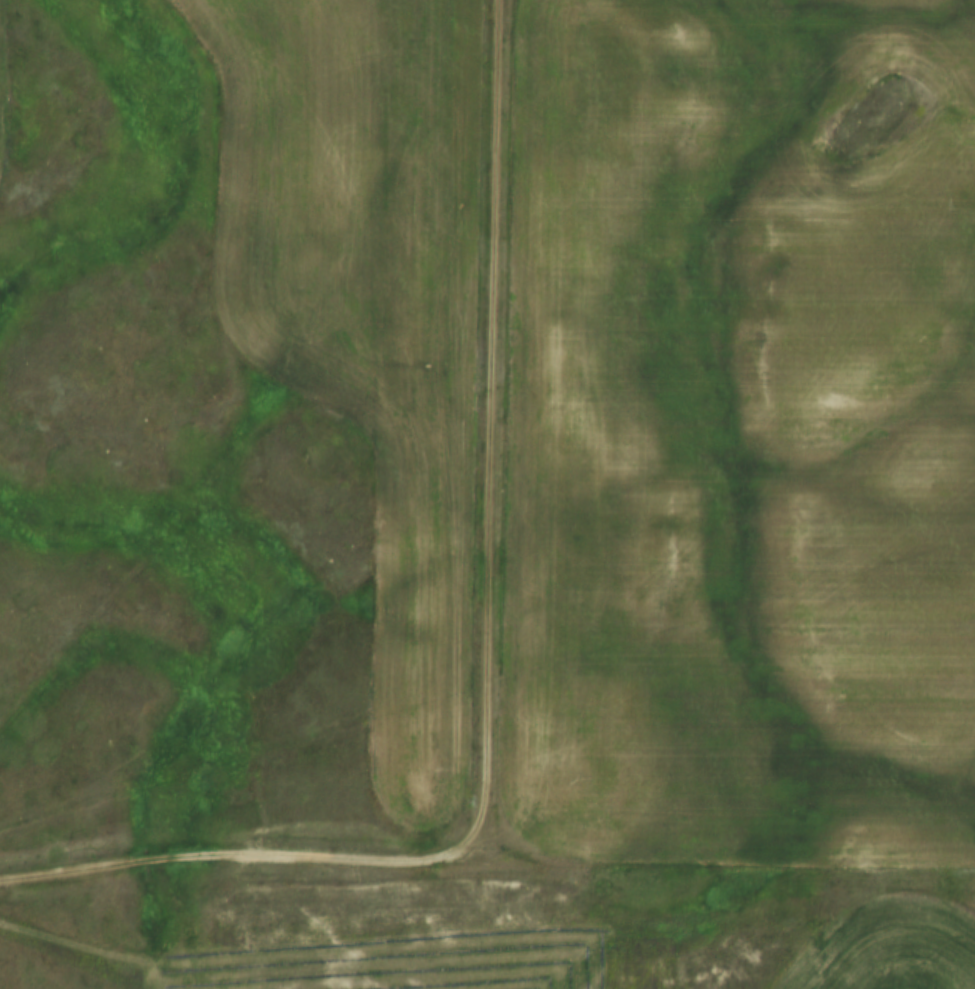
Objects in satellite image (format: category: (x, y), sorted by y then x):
road: (486, 661)

